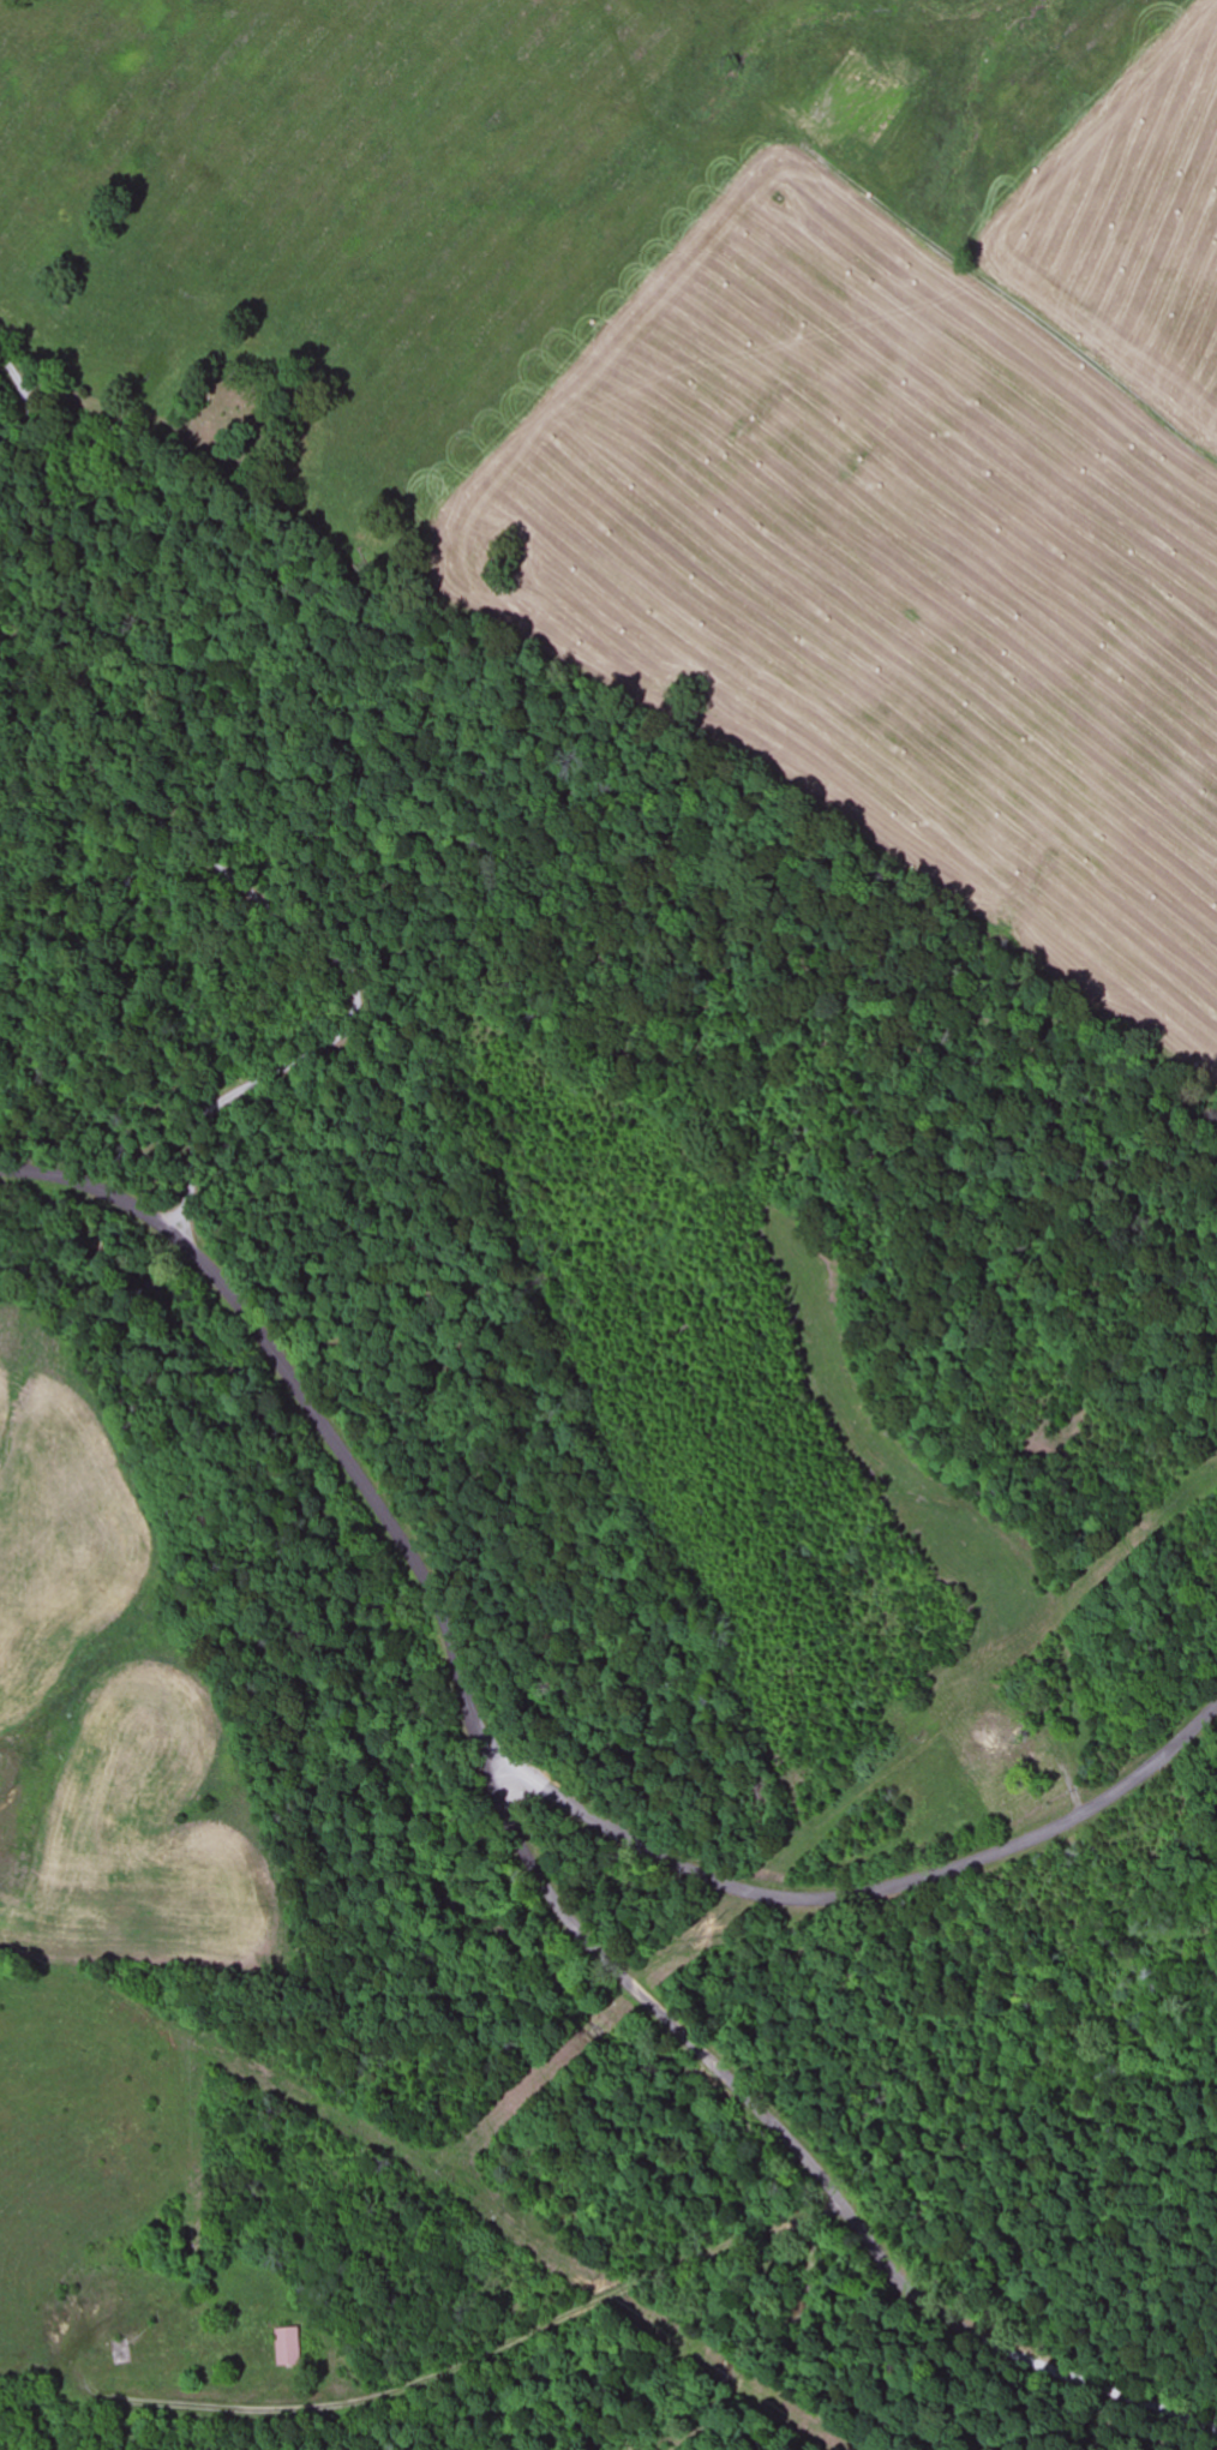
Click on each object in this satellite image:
road: (996, 292)
park: (244, 413)
road: (122, 415)
road: (193, 850)
road: (544, 1851)
road: (862, 1894)
road: (736, 2238)
building: (289, 2347)

